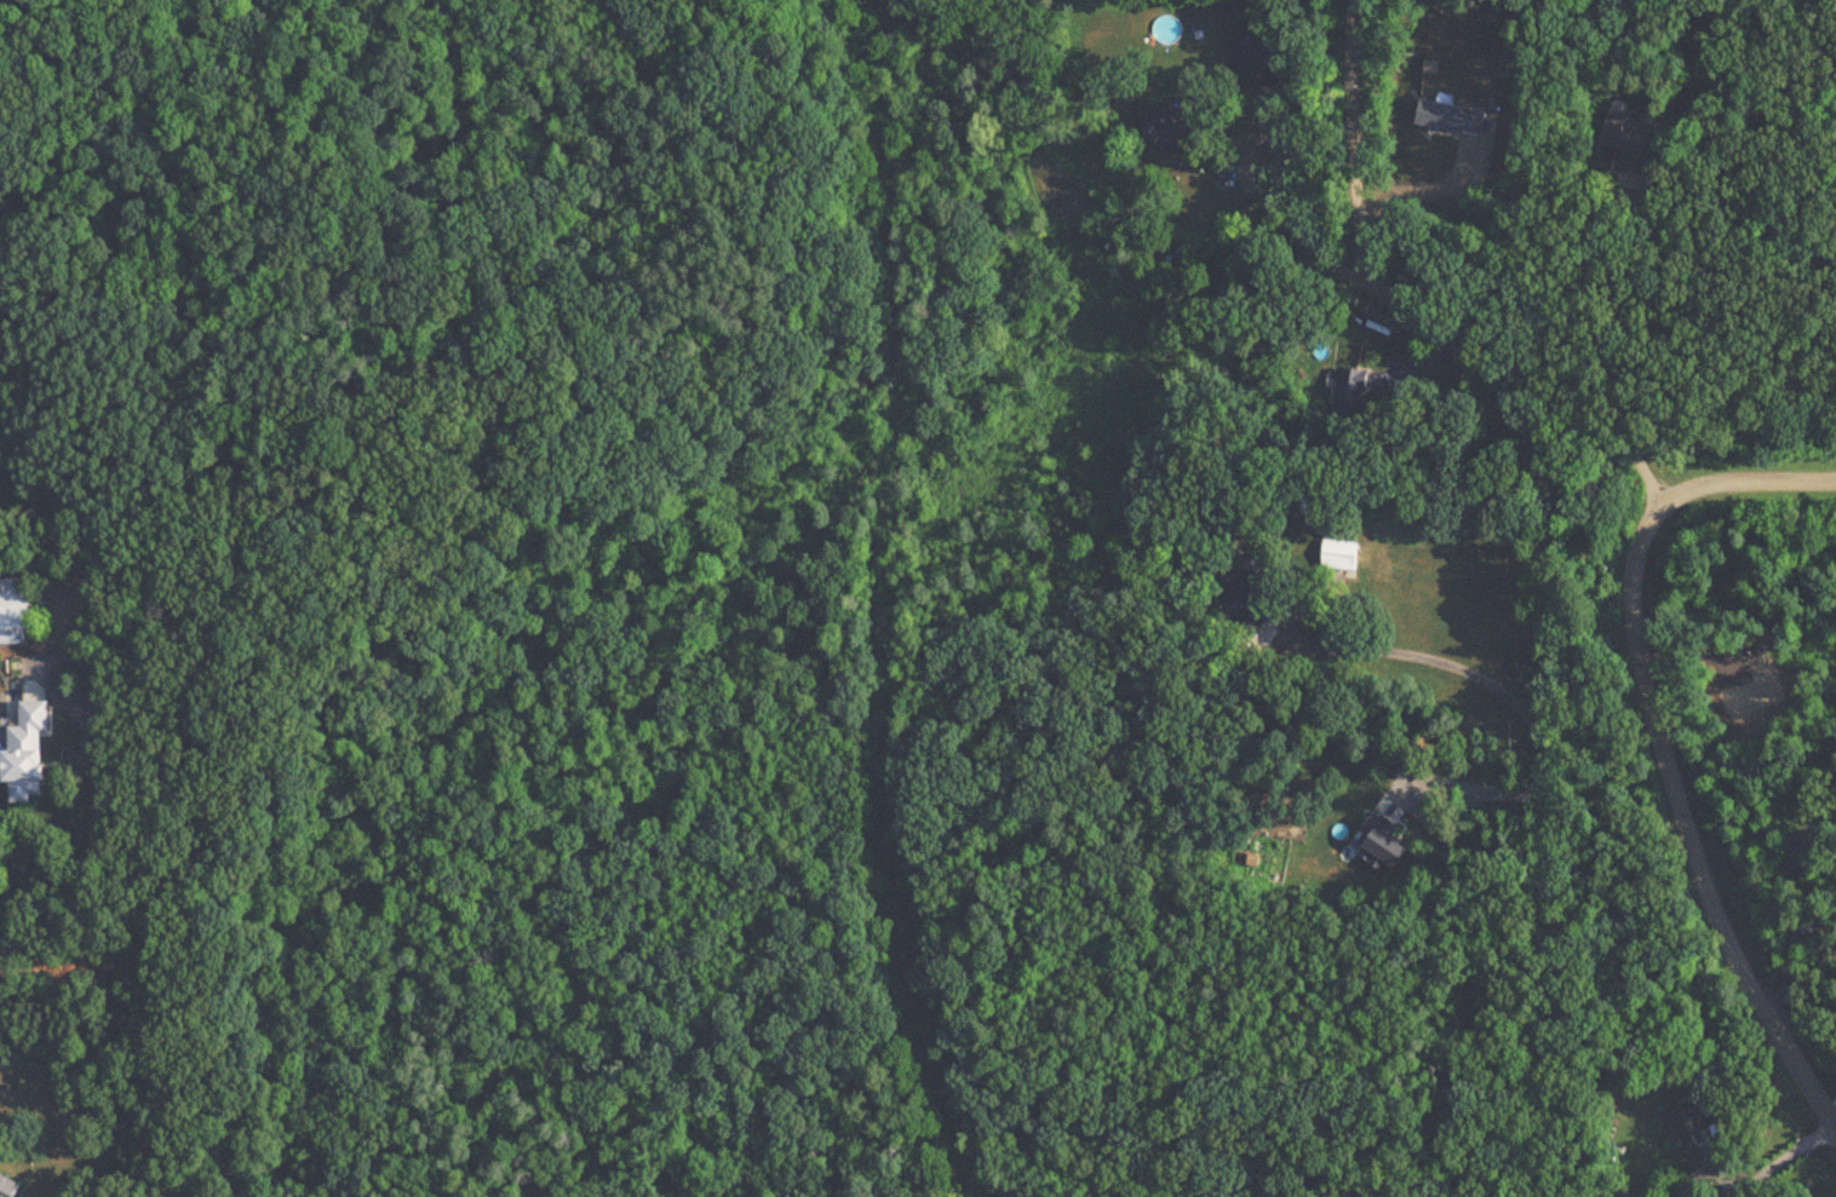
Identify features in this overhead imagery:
building: (1249, 61)
building: (1157, 128)
road: (1354, 138)
building: (1625, 140)
road: (1560, 361)
building: (1346, 393)
building: (1339, 554)
building: (1241, 595)
building: (16, 610)
road: (1556, 621)
road: (1382, 649)
road: (1665, 744)
building: (30, 753)
road: (1469, 790)
road: (86, 897)
road: (1792, 914)
road: (44, 939)
building: (1688, 1122)
road: (1782, 1158)
building: (10, 1187)

